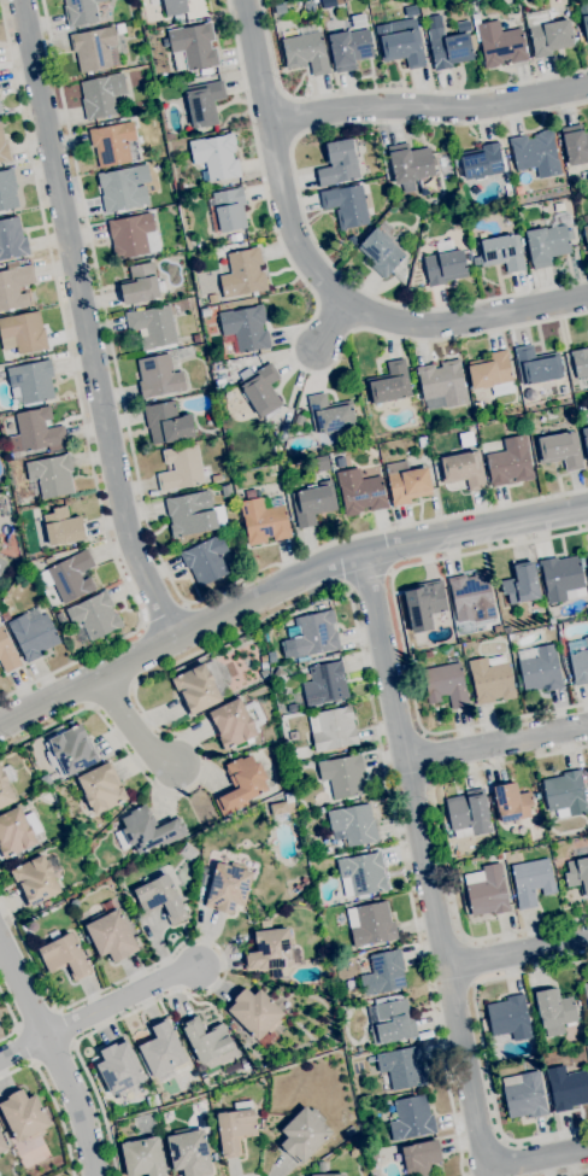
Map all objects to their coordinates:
building: (328, 2)
building: (374, 4)
building: (175, 6)
building: (308, 6)
building: (281, 8)
building: (424, 10)
building: (81, 11)
building: (475, 16)
building: (583, 16)
building: (120, 28)
building: (548, 33)
building: (500, 43)
building: (192, 46)
building: (447, 46)
building: (95, 48)
building: (349, 48)
building: (402, 48)
building: (306, 52)
road: (387, 89)
building: (101, 94)
building: (204, 103)
road: (429, 107)
building: (0, 111)
building: (112, 142)
building: (575, 144)
building: (4, 148)
building: (536, 153)
building: (217, 156)
building: (457, 160)
building: (483, 162)
building: (339, 163)
building: (411, 166)
building: (124, 188)
building: (7, 189)
road: (299, 192)
building: (346, 205)
building: (229, 209)
building: (584, 233)
building: (130, 235)
building: (235, 236)
building: (12, 239)
building: (549, 240)
building: (381, 252)
building: (501, 252)
building: (445, 267)
building: (243, 273)
road: (321, 274)
building: (418, 281)
building: (140, 283)
building: (14, 287)
building: (213, 297)
building: (204, 312)
road: (83, 323)
building: (152, 326)
road: (327, 326)
building: (246, 328)
road: (296, 330)
building: (23, 332)
building: (196, 338)
building: (188, 351)
building: (578, 365)
building: (227, 367)
building: (535, 368)
building: (492, 373)
building: (159, 376)
building: (31, 381)
building: (220, 382)
building: (443, 382)
building: (389, 384)
building: (260, 388)
road: (77, 392)
building: (478, 406)
building: (330, 414)
building: (298, 420)
building: (166, 422)
building: (284, 427)
building: (36, 432)
building: (586, 438)
building: (422, 441)
building: (560, 450)
building: (340, 461)
building: (510, 461)
building: (322, 463)
building: (181, 468)
building: (464, 469)
building: (52, 475)
building: (216, 478)
building: (406, 482)
building: (227, 490)
building: (360, 492)
building: (251, 493)
building: (312, 503)
road: (145, 511)
building: (193, 513)
building: (0, 519)
building: (264, 521)
building: (63, 527)
building: (61, 548)
building: (8, 550)
building: (587, 555)
building: (206, 560)
building: (2, 564)
building: (71, 575)
building: (560, 577)
road: (365, 578)
building: (522, 584)
road: (283, 585)
building: (472, 597)
building: (424, 603)
road: (161, 613)
building: (95, 614)
building: (5, 615)
building: (59, 618)
building: (290, 632)
building: (314, 633)
building: (34, 634)
road: (400, 636)
building: (448, 650)
building: (7, 653)
building: (428, 654)
building: (578, 660)
building: (540, 668)
building: (264, 672)
building: (280, 674)
building: (492, 678)
building: (325, 683)
building: (446, 684)
building: (200, 686)
building: (292, 707)
building: (235, 721)
road: (130, 722)
building: (333, 727)
road: (184, 735)
road: (498, 747)
building: (71, 750)
building: (294, 766)
building: (343, 776)
building: (45, 779)
building: (242, 784)
building: (101, 786)
building: (5, 790)
building: (565, 792)
building: (513, 802)
building: (281, 808)
building: (469, 813)
building: (352, 824)
building: (147, 830)
building: (14, 833)
road: (442, 843)
building: (189, 852)
building: (493, 858)
building: (202, 873)
building: (361, 873)
building: (577, 874)
building: (36, 878)
road: (406, 878)
building: (531, 880)
building: (228, 887)
building: (487, 890)
building: (161, 899)
building: (46, 903)
building: (73, 903)
road: (436, 907)
building: (265, 923)
building: (371, 923)
building: (33, 925)
building: (111, 934)
building: (269, 949)
building: (87, 952)
road: (518, 952)
road: (171, 953)
building: (64, 955)
building: (384, 972)
building: (586, 994)
road: (120, 1001)
building: (554, 1011)
building: (255, 1014)
building: (510, 1017)
road: (12, 1018)
building: (390, 1022)
building: (206, 1038)
road: (23, 1047)
road: (482, 1047)
building: (161, 1051)
road: (55, 1057)
building: (370, 1059)
building: (119, 1067)
building: (402, 1067)
building: (568, 1088)
building: (164, 1095)
building: (524, 1095)
road: (52, 1100)
road: (100, 1108)
building: (23, 1114)
building: (412, 1117)
building: (236, 1128)
building: (349, 1130)
building: (304, 1134)
building: (2, 1143)
building: (189, 1152)
building: (143, 1157)
building: (213, 1157)
building: (419, 1157)
building: (322, 1165)
road: (571, 1172)
road: (248, 1175)
building: (330, 1175)

